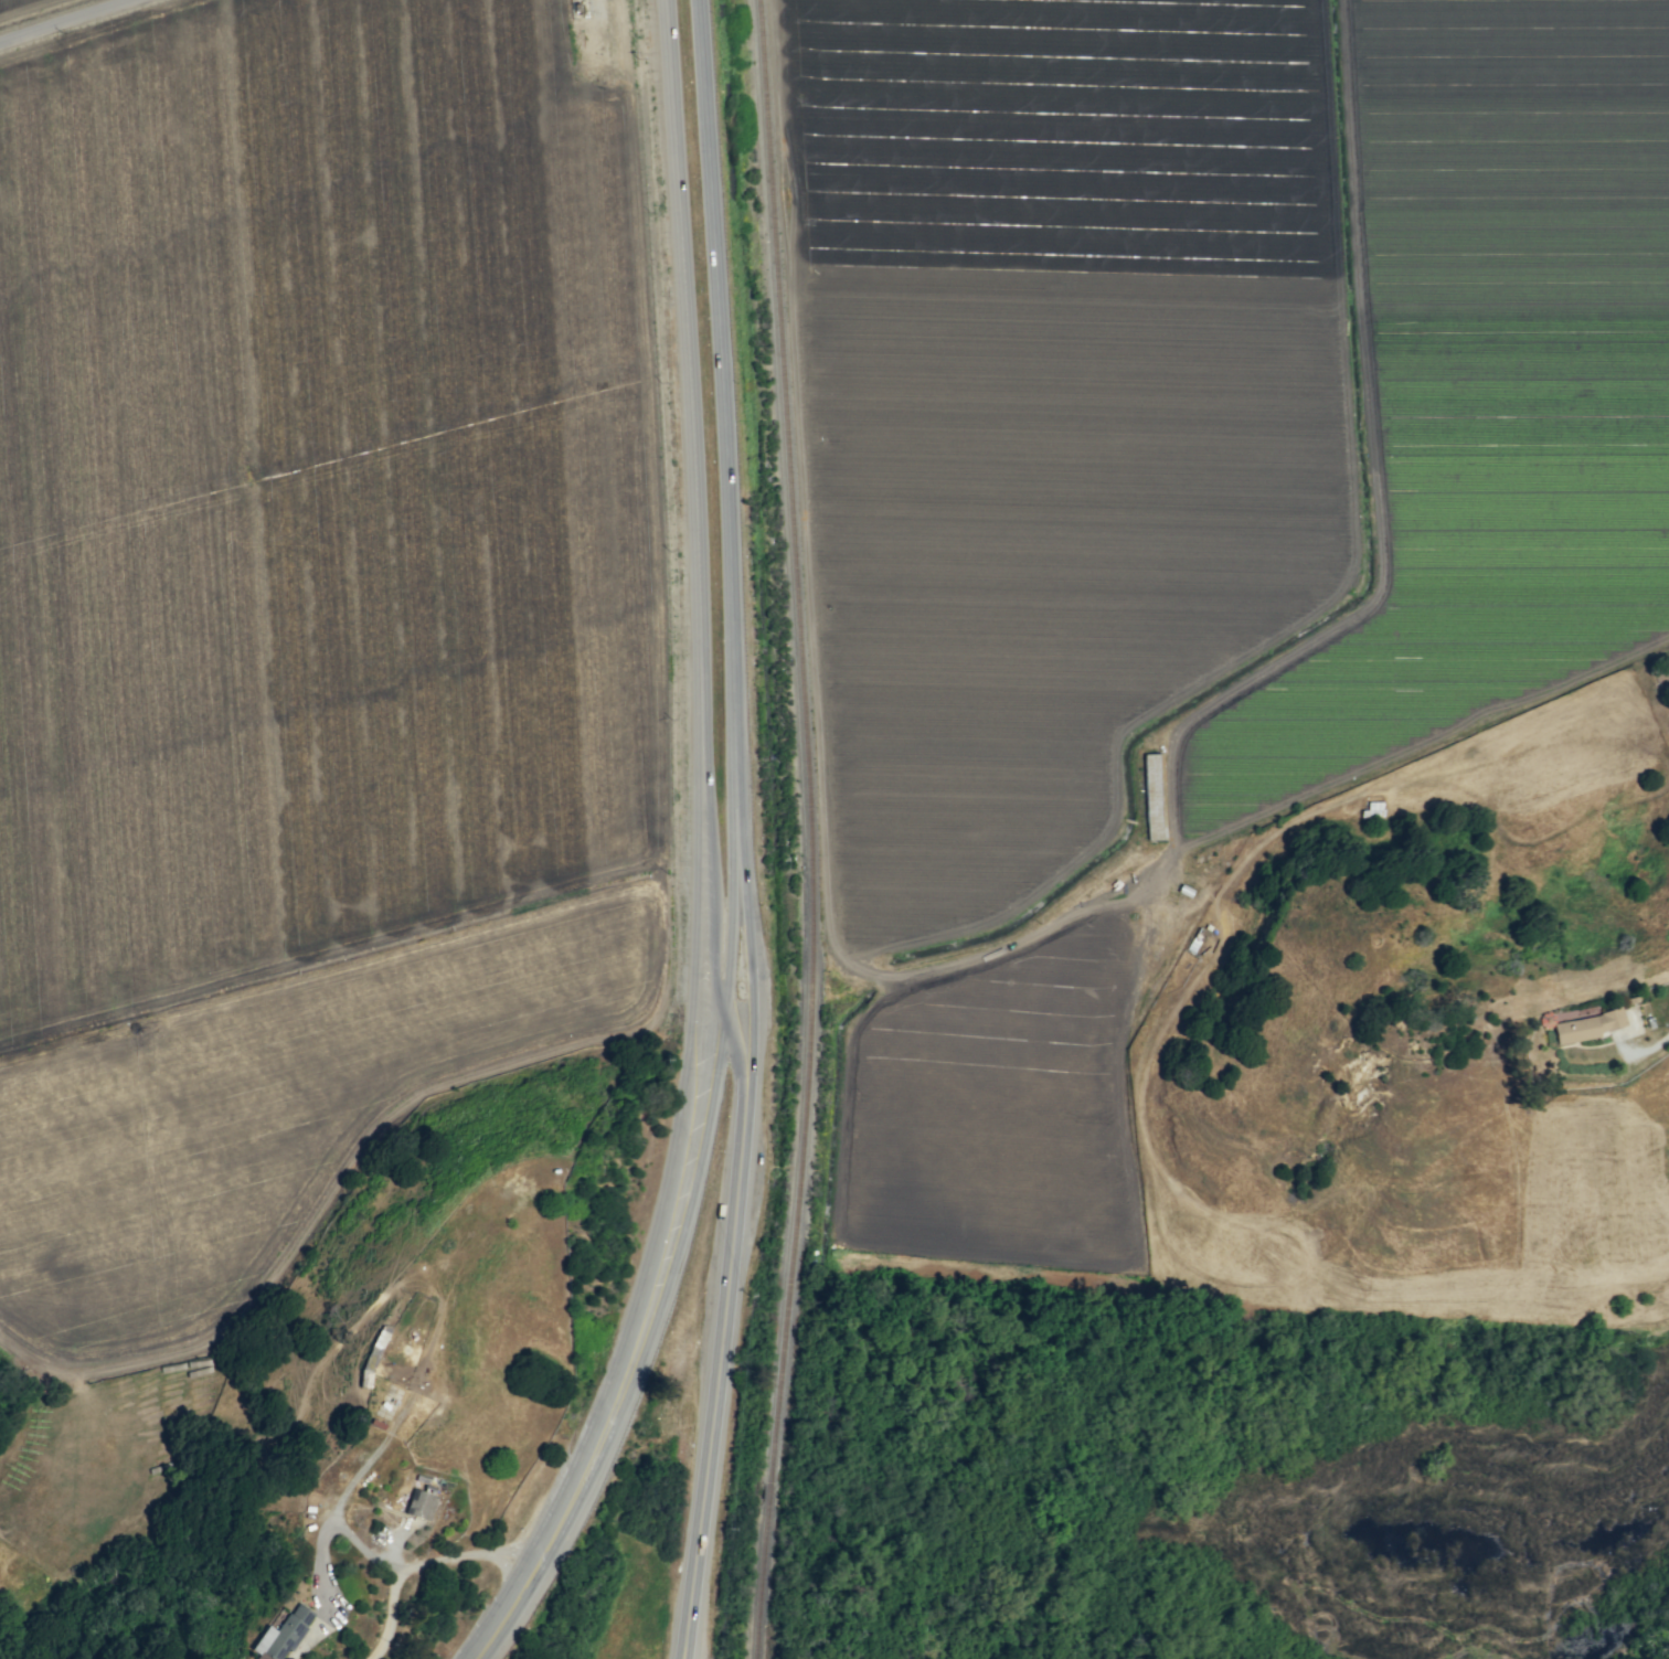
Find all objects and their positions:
road: (65, 21)
road: (682, 359)
road: (714, 404)
crop: (1180, 508)
crop: (313, 620)
building: (1152, 796)
railway: (810, 829)
road: (714, 898)
road: (746, 940)
building: (1587, 1025)
road: (1665, 1035)
road: (687, 1080)
road: (706, 1128)
road: (717, 1366)
building: (419, 1503)
road: (326, 1523)
road: (544, 1548)
road: (419, 1562)
building: (279, 1634)

